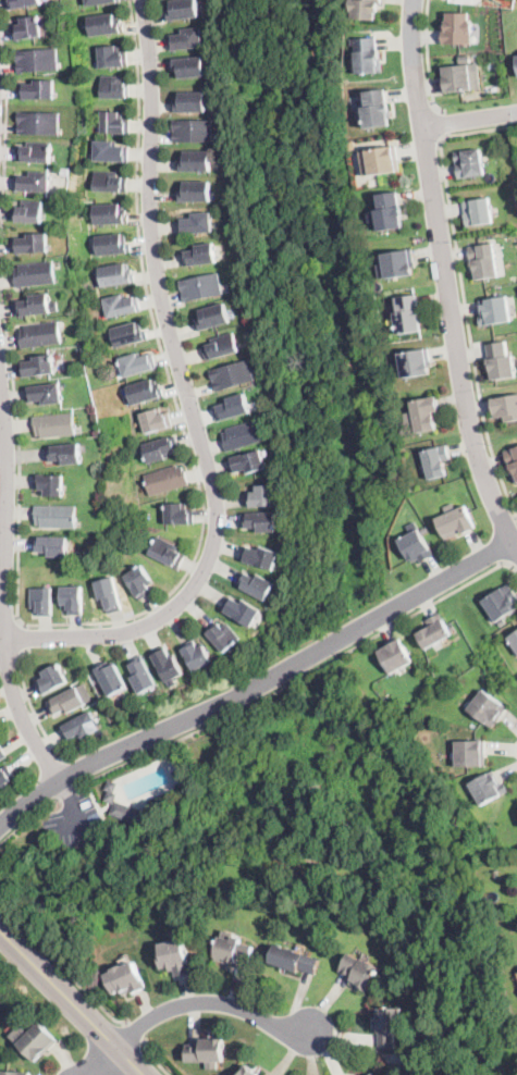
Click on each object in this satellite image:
building: (99, 2)
building: (22, 3)
building: (365, 9)
building: (184, 10)
building: (104, 24)
building: (457, 27)
building: (27, 28)
building: (187, 39)
building: (367, 55)
building: (516, 55)
building: (112, 57)
building: (465, 58)
road: (428, 59)
building: (516, 60)
building: (37, 61)
building: (190, 66)
building: (455, 78)
building: (113, 87)
building: (38, 90)
building: (192, 102)
building: (378, 109)
road: (470, 120)
building: (38, 123)
building: (113, 123)
road: (439, 124)
building: (193, 131)
building: (110, 151)
building: (34, 152)
building: (384, 160)
building: (196, 161)
building: (467, 163)
building: (64, 171)
building: (34, 182)
building: (109, 182)
building: (196, 191)
building: (29, 212)
building: (390, 212)
building: (476, 212)
building: (109, 214)
building: (198, 224)
building: (30, 244)
building: (112, 245)
building: (200, 256)
building: (482, 261)
building: (401, 264)
building: (35, 274)
building: (115, 274)
road: (447, 276)
building: (201, 287)
road: (463, 291)
building: (36, 306)
building: (121, 306)
building: (493, 311)
building: (409, 314)
building: (213, 317)
building: (40, 333)
building: (127, 334)
building: (220, 347)
building: (58, 354)
building: (500, 361)
building: (417, 362)
building: (135, 363)
road: (5, 366)
building: (38, 366)
building: (232, 375)
building: (144, 392)
building: (45, 394)
road: (188, 398)
building: (232, 408)
building: (505, 408)
building: (426, 413)
building: (155, 420)
building: (54, 425)
building: (243, 435)
building: (160, 449)
building: (64, 454)
building: (435, 461)
building: (512, 461)
building: (247, 462)
building: (165, 480)
building: (50, 484)
building: (261, 497)
building: (179, 515)
building: (54, 516)
building: (260, 521)
building: (456, 522)
building: (424, 528)
building: (51, 545)
building: (415, 547)
building: (167, 553)
building: (260, 557)
road: (515, 566)
building: (139, 582)
building: (256, 585)
road: (4, 586)
building: (109, 594)
building: (72, 600)
building: (41, 601)
building: (501, 603)
building: (241, 611)
road: (106, 622)
building: (434, 631)
building: (223, 637)
road: (22, 639)
building: (514, 640)
building: (197, 656)
building: (394, 656)
building: (168, 666)
building: (143, 676)
building: (110, 678)
building: (51, 680)
road: (299, 680)
road: (257, 684)
building: (66, 702)
road: (32, 708)
building: (487, 708)
building: (81, 726)
building: (469, 753)
building: (2, 754)
road: (72, 773)
building: (5, 777)
building: (488, 788)
road: (65, 791)
road: (66, 794)
building: (122, 806)
road: (75, 815)
road: (28, 823)
building: (233, 951)
building: (174, 957)
building: (293, 960)
road: (63, 968)
building: (360, 972)
building: (125, 979)
road: (72, 1002)
road: (192, 1004)
building: (387, 1026)
road: (135, 1031)
building: (37, 1042)
building: (206, 1051)
road: (153, 1059)
building: (413, 1061)
building: (247, 1071)
building: (13, 1073)
building: (373, 1074)

